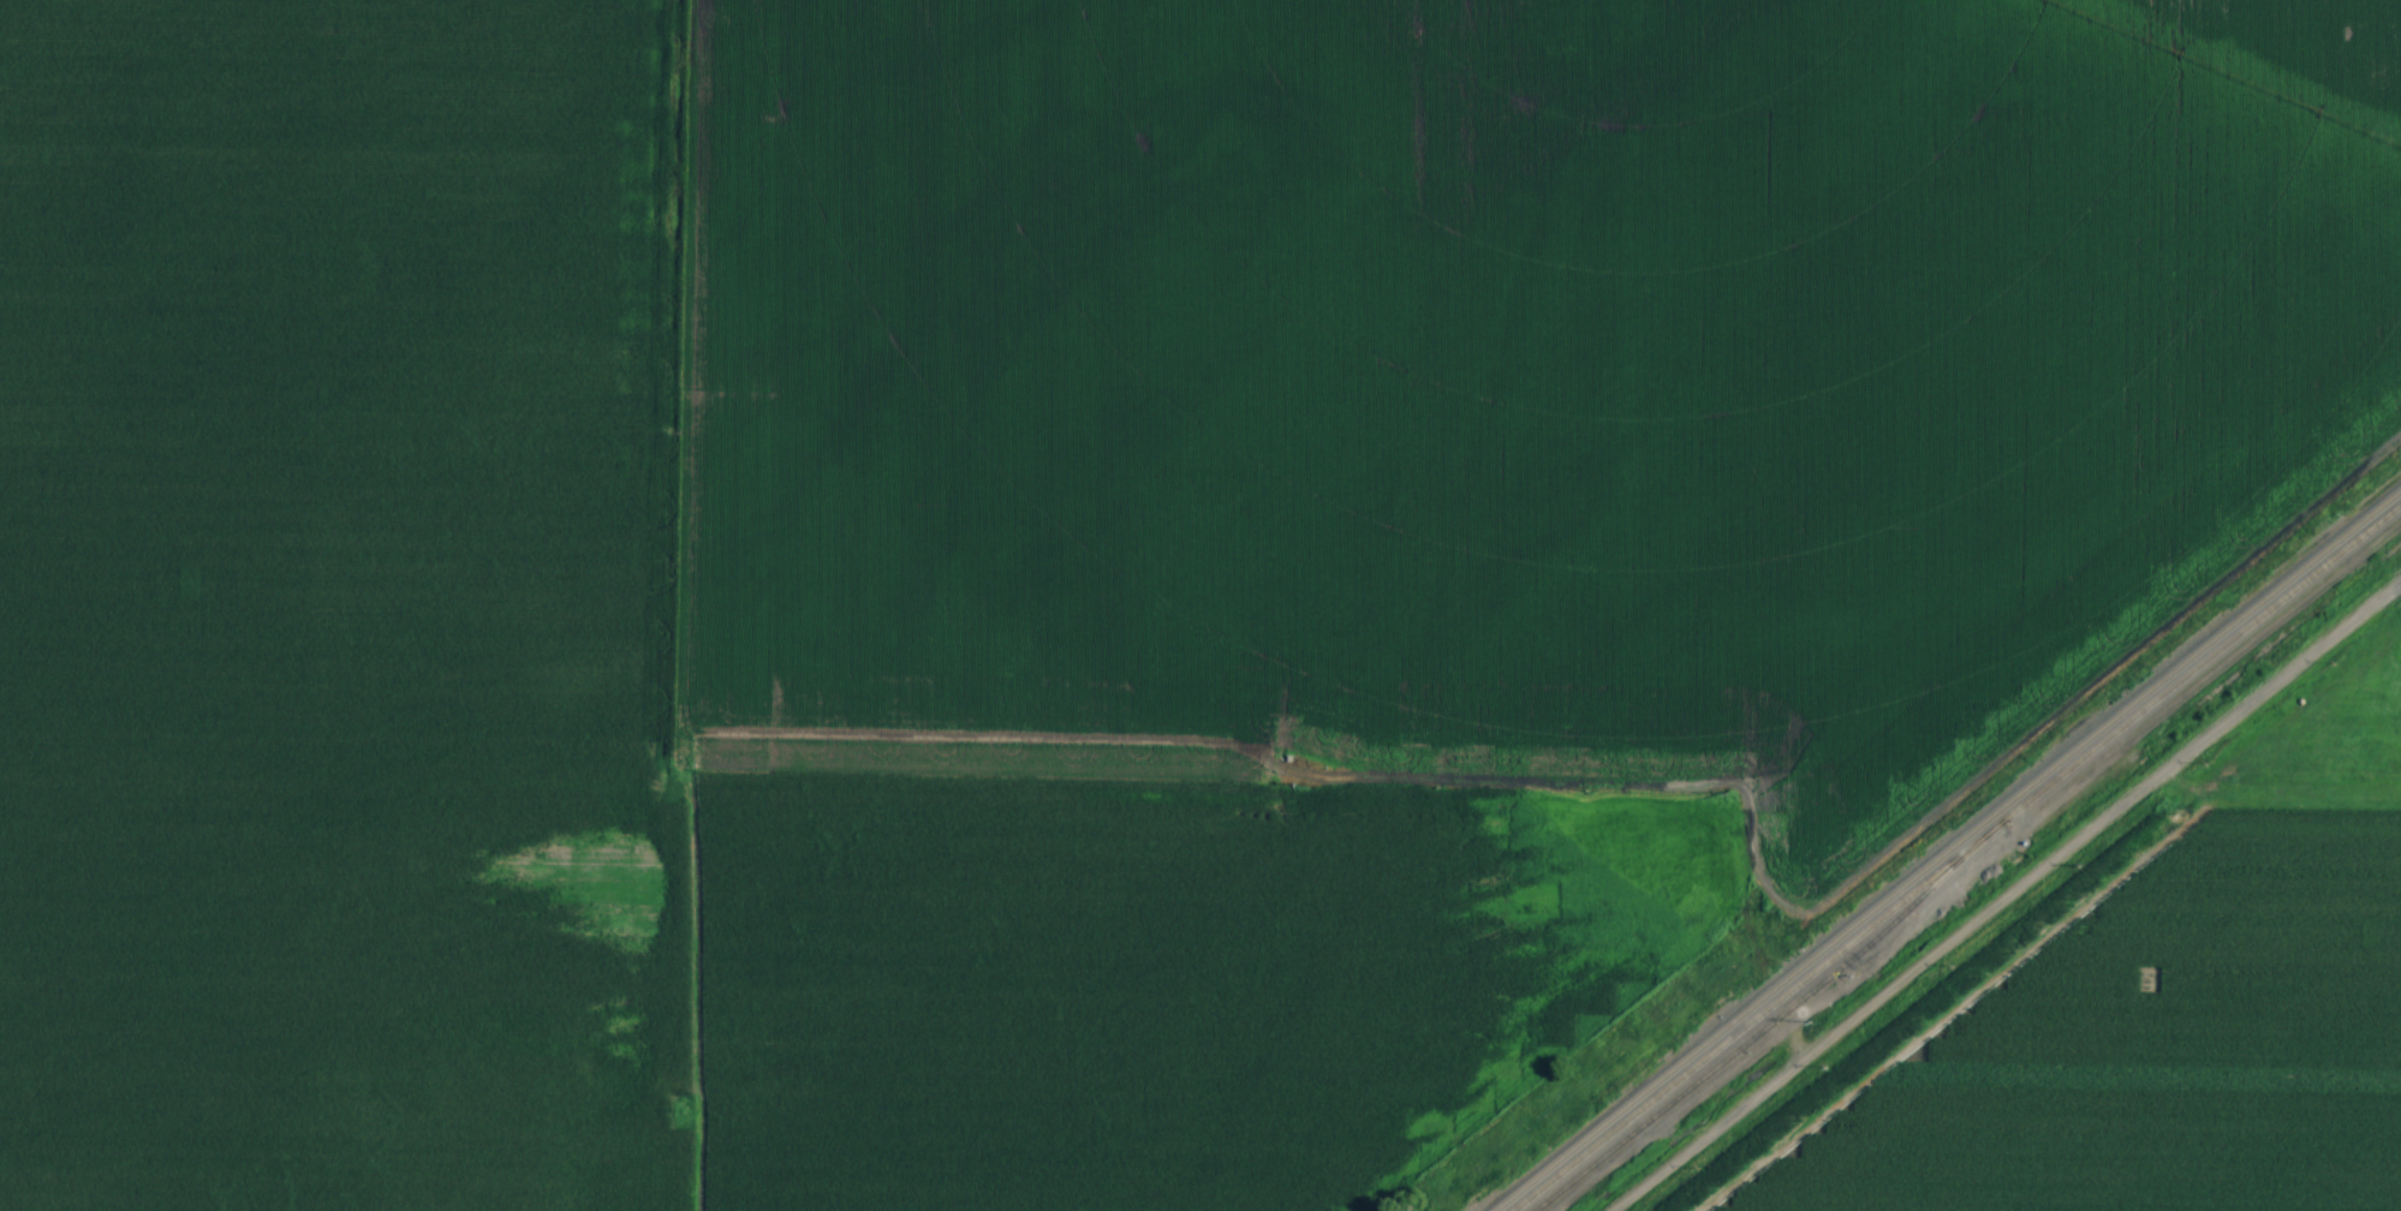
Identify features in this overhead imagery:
railway: (1947, 851)
railway: (1955, 857)
road: (2009, 900)
railway: (1775, 1019)

